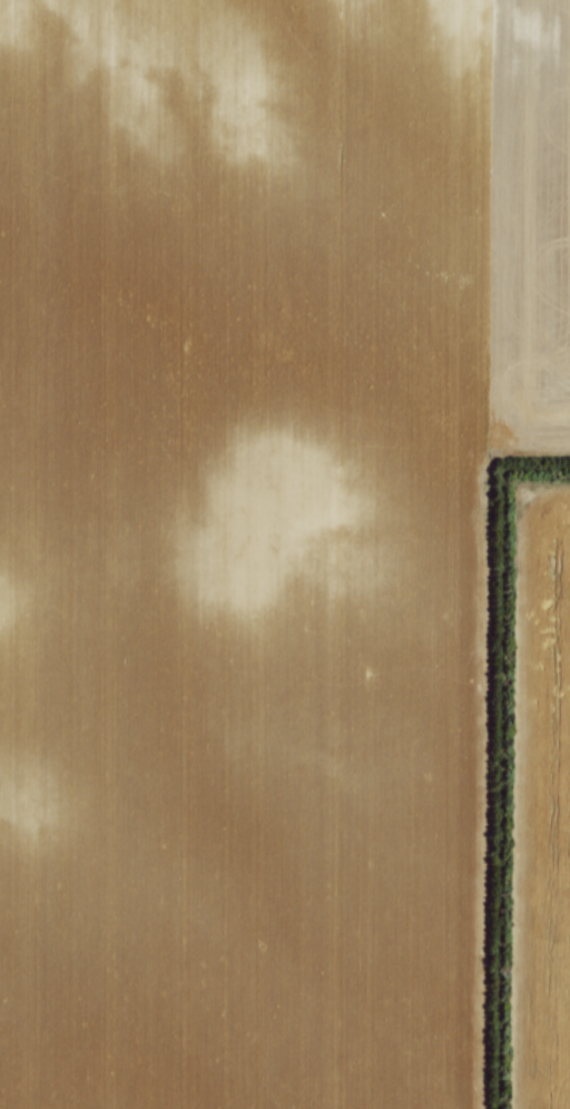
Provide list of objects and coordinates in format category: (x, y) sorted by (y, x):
crop: (258, 529)
crop: (537, 805)

